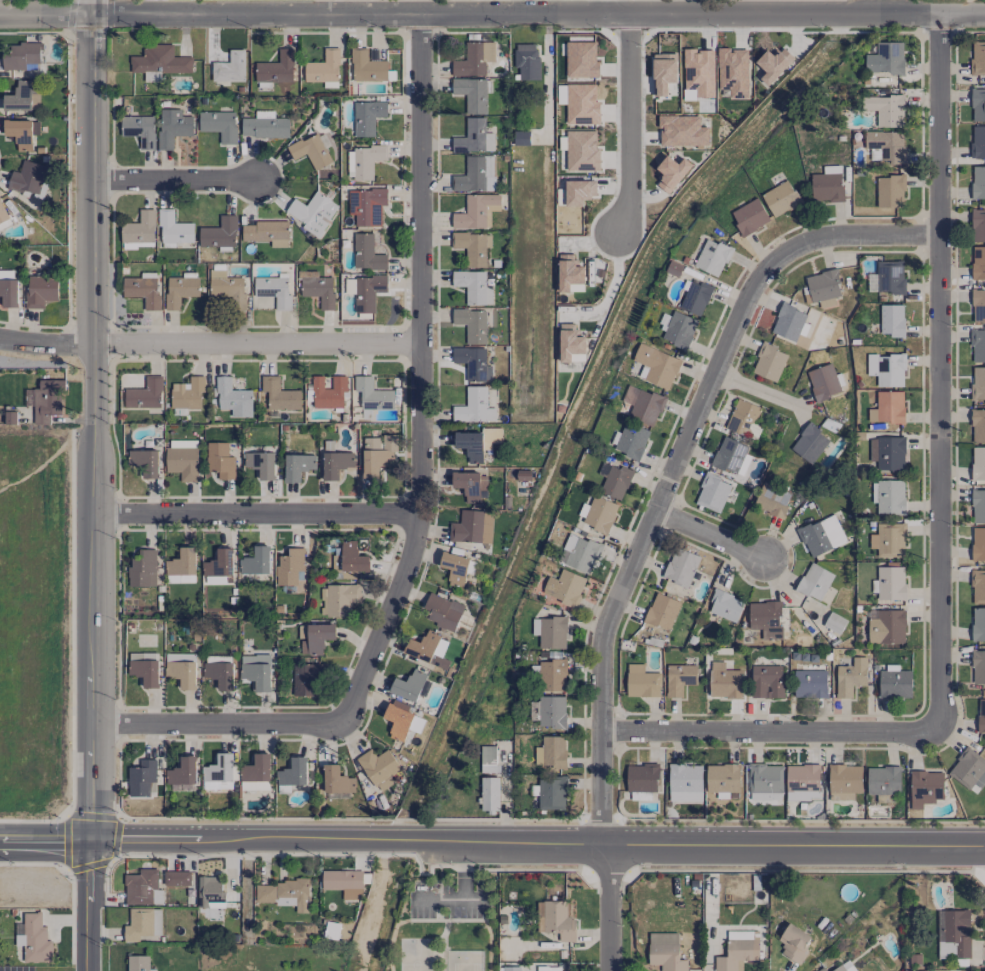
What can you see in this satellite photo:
road: (607, 6)
road: (492, 13)
building: (21, 56)
building: (977, 57)
building: (885, 58)
building: (474, 59)
building: (581, 59)
building: (527, 61)
building: (159, 62)
building: (773, 64)
building: (367, 66)
building: (229, 67)
building: (323, 67)
building: (276, 68)
building: (699, 71)
building: (733, 71)
building: (663, 72)
building: (472, 93)
building: (561, 94)
building: (19, 97)
building: (581, 104)
building: (977, 105)
building: (886, 110)
building: (367, 117)
road: (626, 123)
building: (219, 125)
building: (264, 126)
building: (173, 127)
building: (139, 130)
building: (682, 131)
building: (22, 132)
building: (474, 137)
building: (521, 138)
building: (977, 141)
building: (887, 145)
building: (310, 151)
building: (582, 151)
building: (365, 161)
building: (671, 172)
building: (475, 175)
building: (27, 177)
building: (978, 181)
road: (175, 182)
building: (827, 184)
building: (579, 191)
building: (890, 191)
building: (780, 198)
building: (366, 205)
building: (474, 211)
building: (312, 212)
building: (749, 217)
building: (3, 218)
building: (977, 226)
building: (140, 228)
building: (173, 228)
building: (219, 233)
building: (266, 233)
building: (472, 247)
building: (367, 253)
building: (712, 257)
building: (978, 262)
building: (568, 273)
building: (890, 277)
road: (611, 285)
building: (823, 286)
building: (473, 287)
building: (317, 288)
building: (143, 289)
building: (227, 289)
building: (40, 290)
building: (180, 290)
building: (274, 290)
building: (9, 292)
building: (368, 292)
building: (695, 297)
building: (978, 306)
building: (891, 320)
building: (789, 322)
building: (473, 323)
building: (679, 329)
building: (570, 343)
road: (209, 345)
building: (978, 346)
road: (91, 362)
building: (769, 362)
building: (473, 363)
building: (656, 366)
building: (887, 369)
road: (940, 371)
road: (420, 375)
building: (823, 382)
building: (978, 382)
road: (762, 388)
building: (328, 392)
building: (144, 394)
building: (279, 394)
building: (372, 394)
building: (186, 395)
road: (759, 395)
building: (233, 398)
building: (47, 400)
building: (644, 405)
building: (474, 406)
building: (888, 408)
building: (742, 417)
building: (978, 426)
building: (629, 440)
building: (477, 443)
building: (809, 443)
building: (888, 452)
building: (377, 454)
building: (729, 455)
building: (183, 460)
building: (220, 460)
building: (144, 462)
building: (978, 463)
building: (261, 464)
building: (335, 464)
road: (678, 465)
building: (297, 466)
building: (614, 480)
building: (470, 485)
building: (712, 493)
building: (888, 496)
building: (772, 500)
building: (978, 506)
building: (600, 514)
road: (255, 517)
building: (472, 527)
building: (821, 535)
road: (712, 537)
building: (888, 540)
building: (978, 544)
building: (580, 554)
building: (353, 558)
building: (256, 561)
building: (336, 562)
building: (218, 563)
building: (182, 567)
building: (290, 567)
building: (680, 567)
building: (142, 568)
building: (455, 568)
building: (217, 580)
building: (814, 581)
building: (889, 583)
building: (978, 586)
building: (565, 587)
building: (339, 599)
building: (725, 606)
building: (442, 611)
building: (662, 611)
building: (766, 618)
building: (834, 622)
building: (978, 624)
building: (887, 627)
building: (550, 632)
building: (315, 637)
building: (426, 649)
building: (978, 667)
building: (182, 669)
building: (256, 671)
building: (145, 672)
building: (552, 672)
building: (220, 674)
building: (850, 677)
building: (679, 679)
building: (724, 679)
building: (306, 680)
building: (641, 681)
building: (766, 681)
building: (810, 683)
building: (894, 684)
building: (411, 686)
building: (552, 711)
building: (981, 715)
building: (398, 721)
road: (220, 724)
road: (770, 731)
building: (551, 752)
building: (488, 760)
building: (256, 768)
building: (379, 768)
building: (968, 769)
building: (182, 772)
building: (218, 773)
building: (293, 773)
building: (642, 777)
building: (141, 778)
building: (722, 779)
building: (337, 780)
building: (883, 780)
building: (844, 781)
building: (765, 782)
building: (802, 782)
building: (684, 783)
road: (93, 785)
building: (255, 785)
building: (925, 788)
building: (552, 793)
building: (489, 794)
building: (640, 795)
road: (46, 845)
road: (539, 846)
traffic signals: (93, 847)
road: (463, 872)
building: (176, 878)
building: (343, 882)
building: (140, 886)
building: (210, 890)
building: (191, 891)
building: (284, 894)
road: (446, 898)
road: (610, 908)
road: (91, 909)
park: (448, 920)
building: (558, 920)
building: (157, 922)
building: (138, 924)
building: (954, 935)
building: (34, 939)
building: (794, 943)
building: (665, 951)
building: (737, 954)
building: (138, 963)
building: (844, 967)
building: (511, 968)
building: (822, 969)

